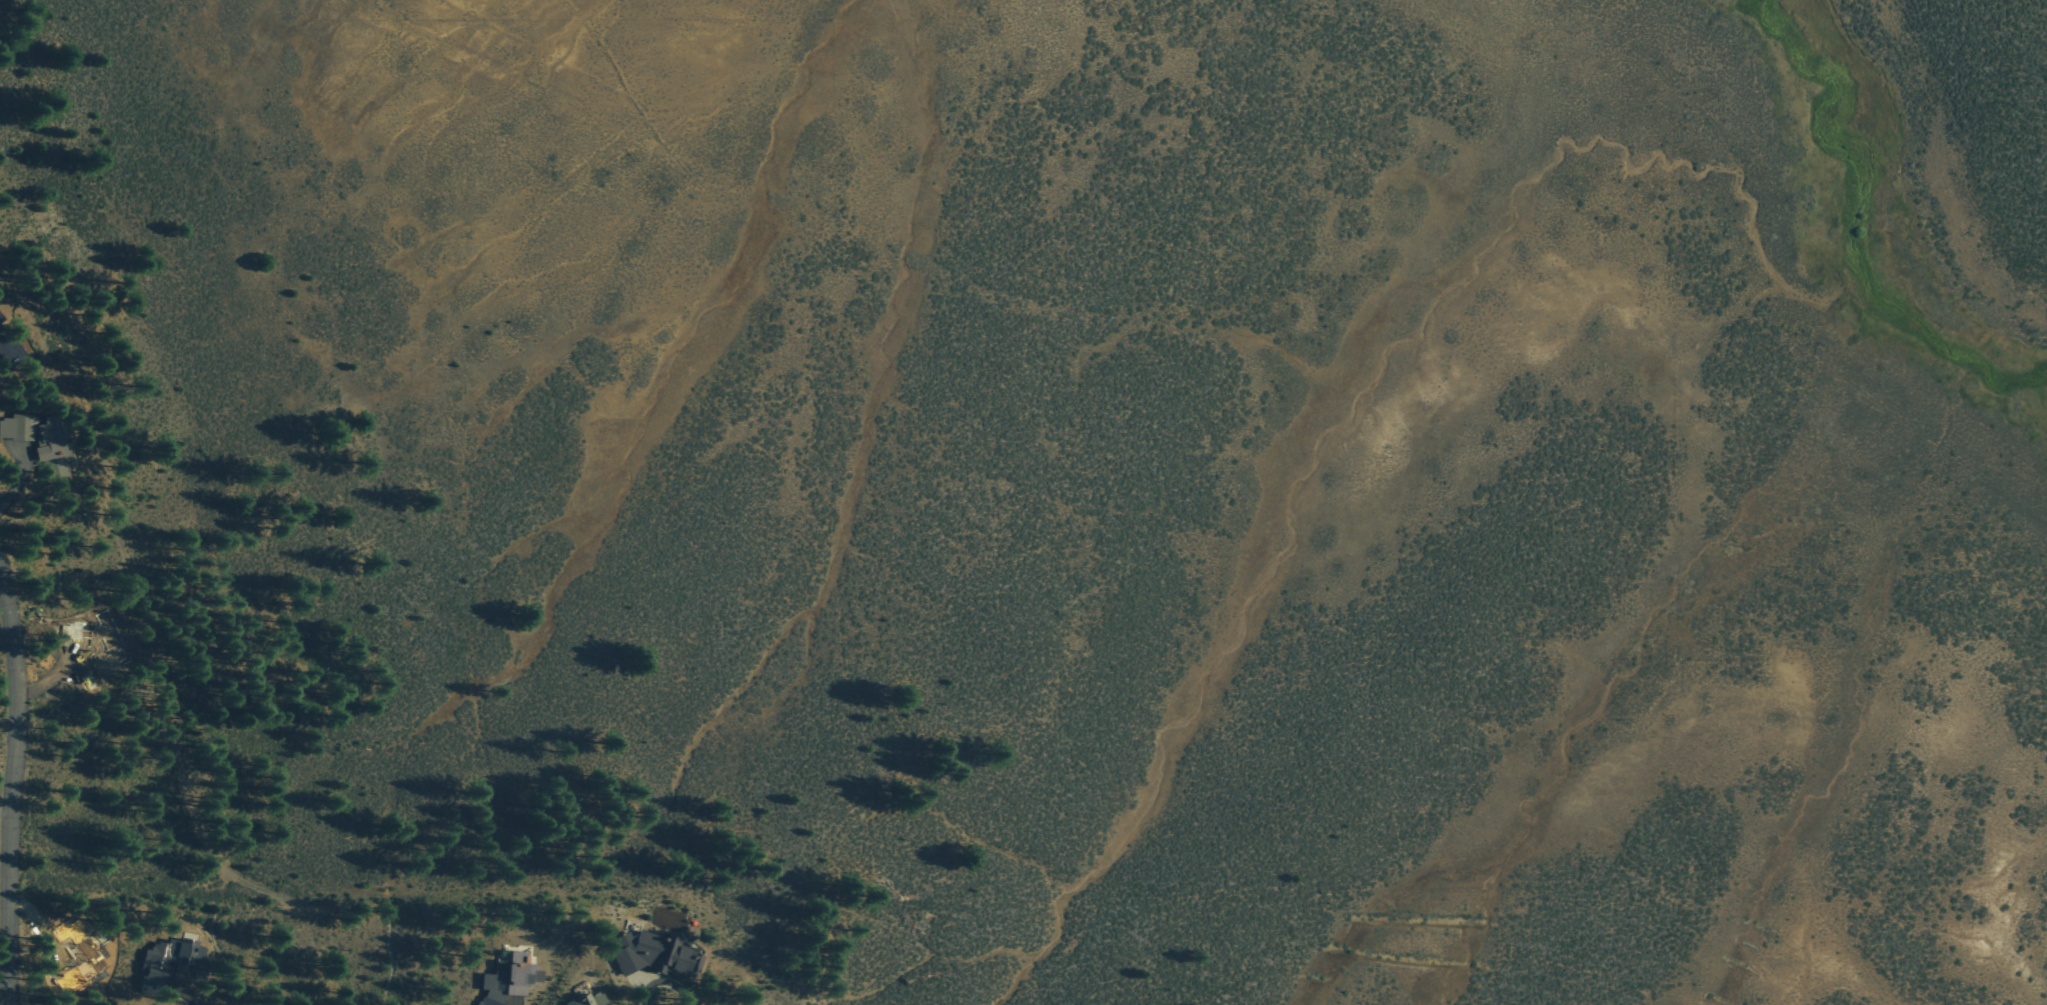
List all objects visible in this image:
road: (2, 806)
building: (651, 953)
building: (589, 1000)

